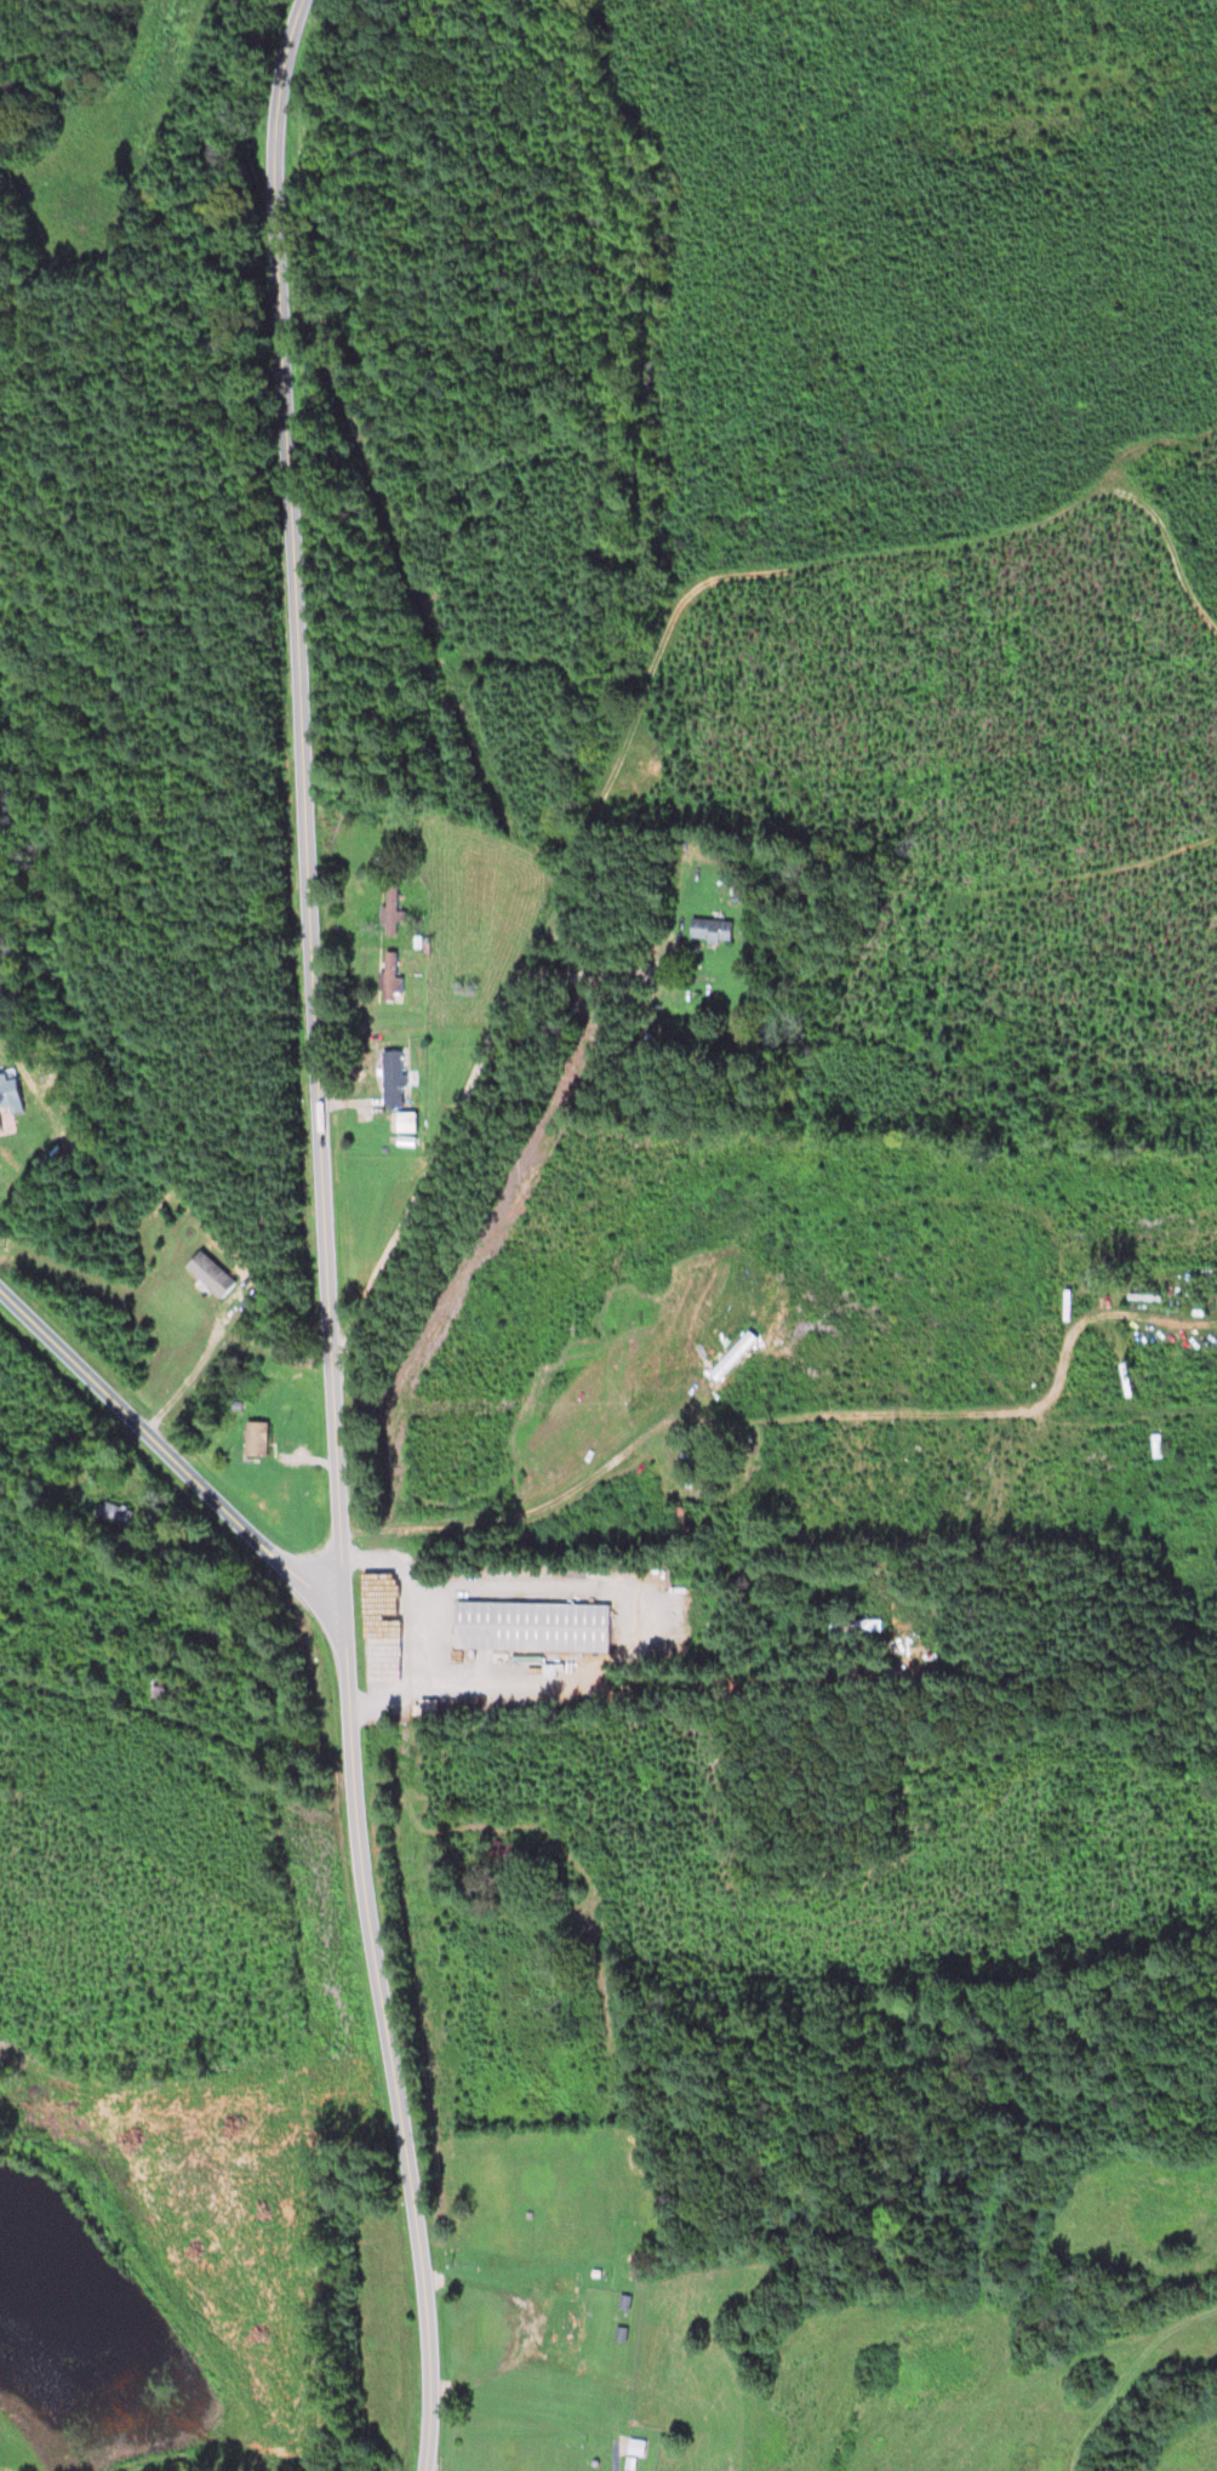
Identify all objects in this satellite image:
building: (389, 912)
building: (709, 931)
building: (389, 980)
road: (487, 1044)
building: (390, 1079)
building: (402, 1123)
building: (1, 1180)
road: (325, 1235)
building: (210, 1276)
building: (256, 1439)
road: (172, 1457)
building: (114, 1514)
building: (680, 1518)
building: (841, 1625)
building: (528, 1627)
road: (398, 1632)
building: (497, 1853)
building: (566, 2328)
building: (633, 2448)

